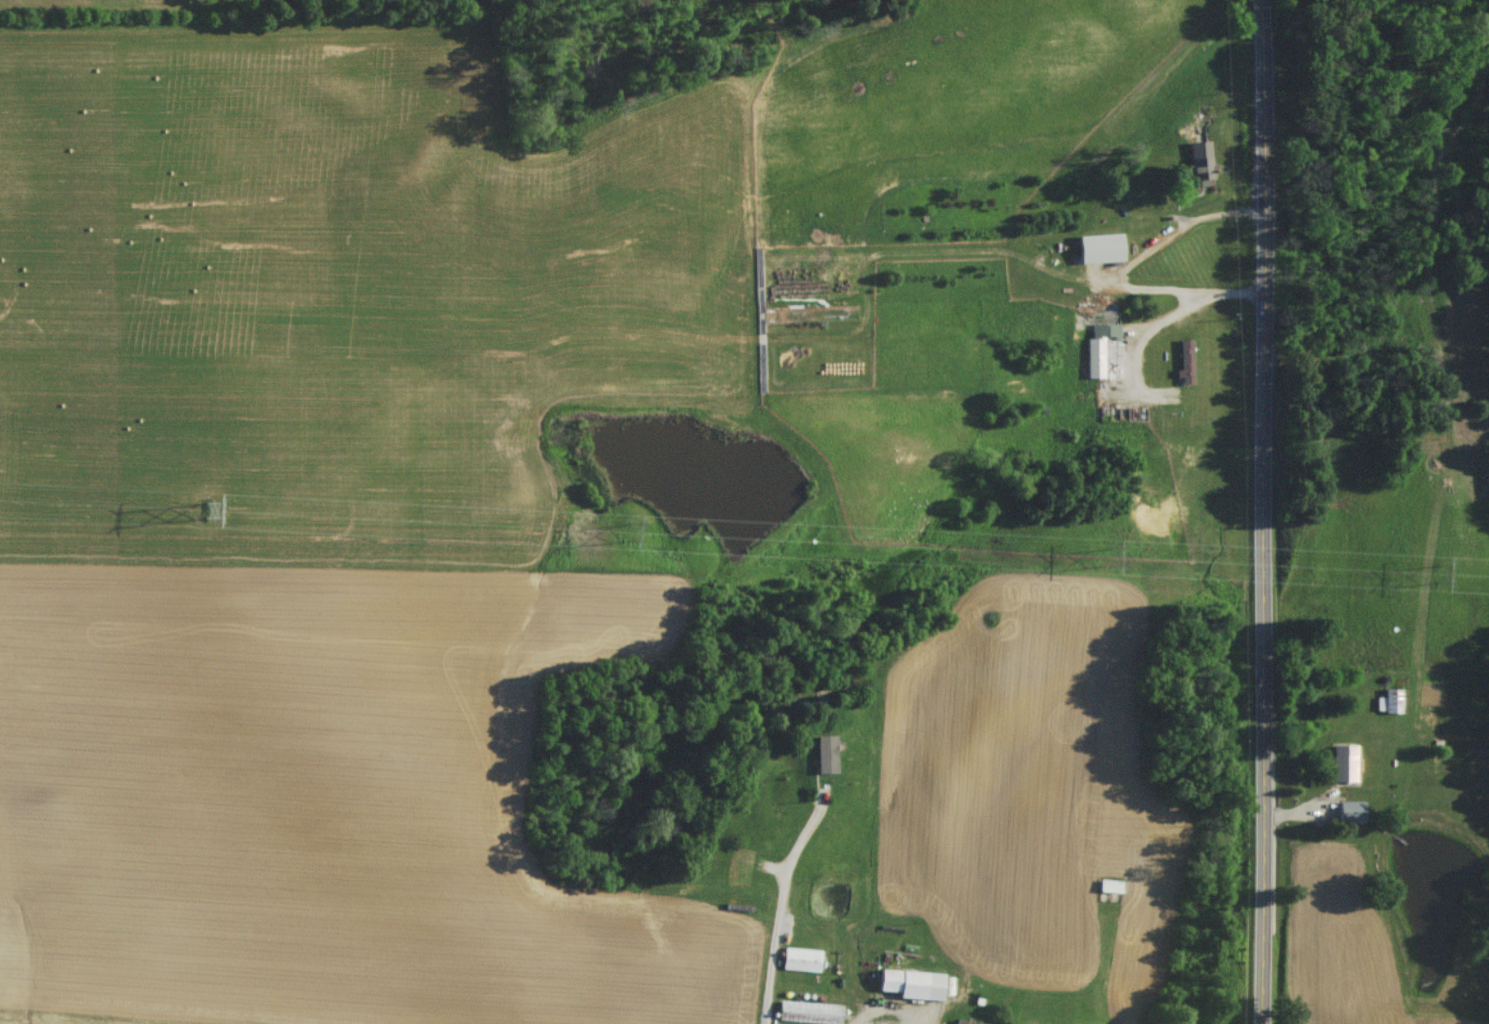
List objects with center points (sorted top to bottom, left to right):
building: (1196, 174)
building: (1095, 251)
road: (1126, 270)
building: (1103, 356)
road: (1263, 511)
power tower: (205, 515)
power tower: (622, 536)
power tower: (1102, 560)
power tower: (1435, 578)
building: (1389, 705)
building: (817, 759)
building: (1340, 768)
building: (1348, 816)
building: (1106, 891)
road: (782, 907)
building: (797, 964)
building: (898, 988)
road: (888, 1013)
building: (804, 1015)

